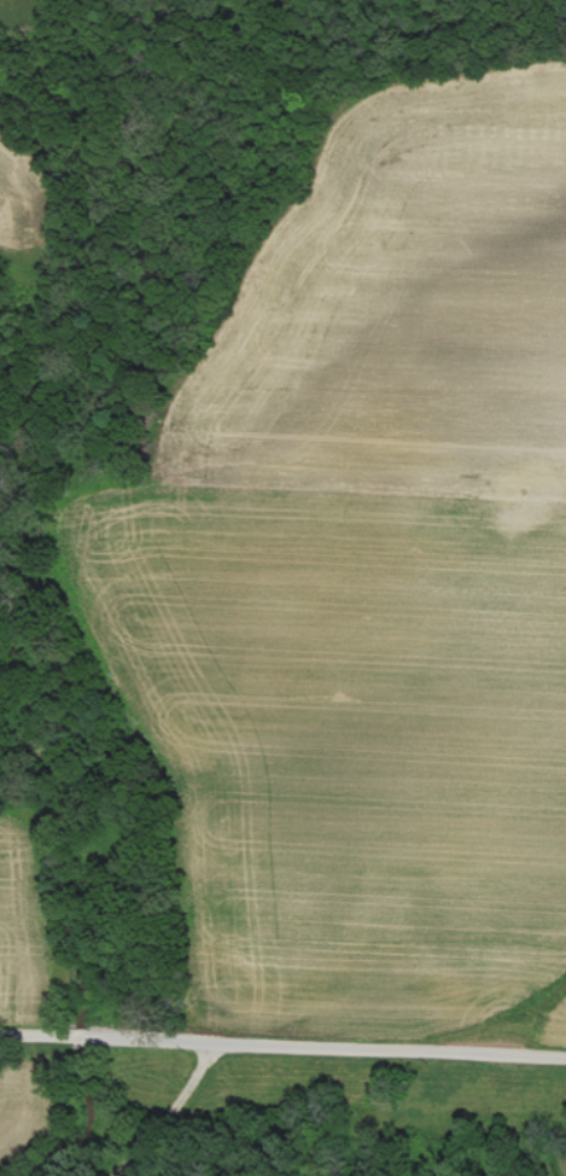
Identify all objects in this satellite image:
road: (282, 1047)

